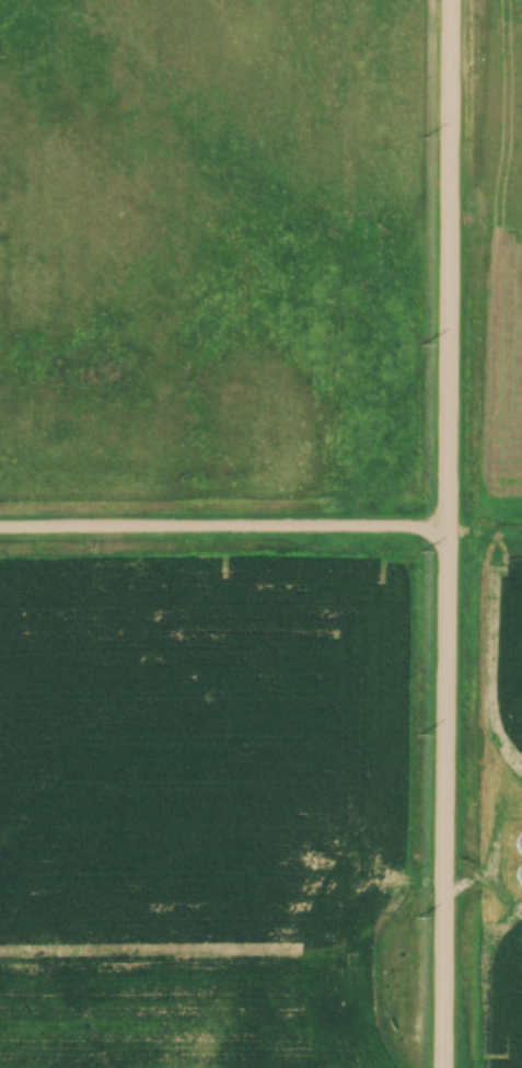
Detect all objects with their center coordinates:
road: (223, 532)
road: (446, 533)

